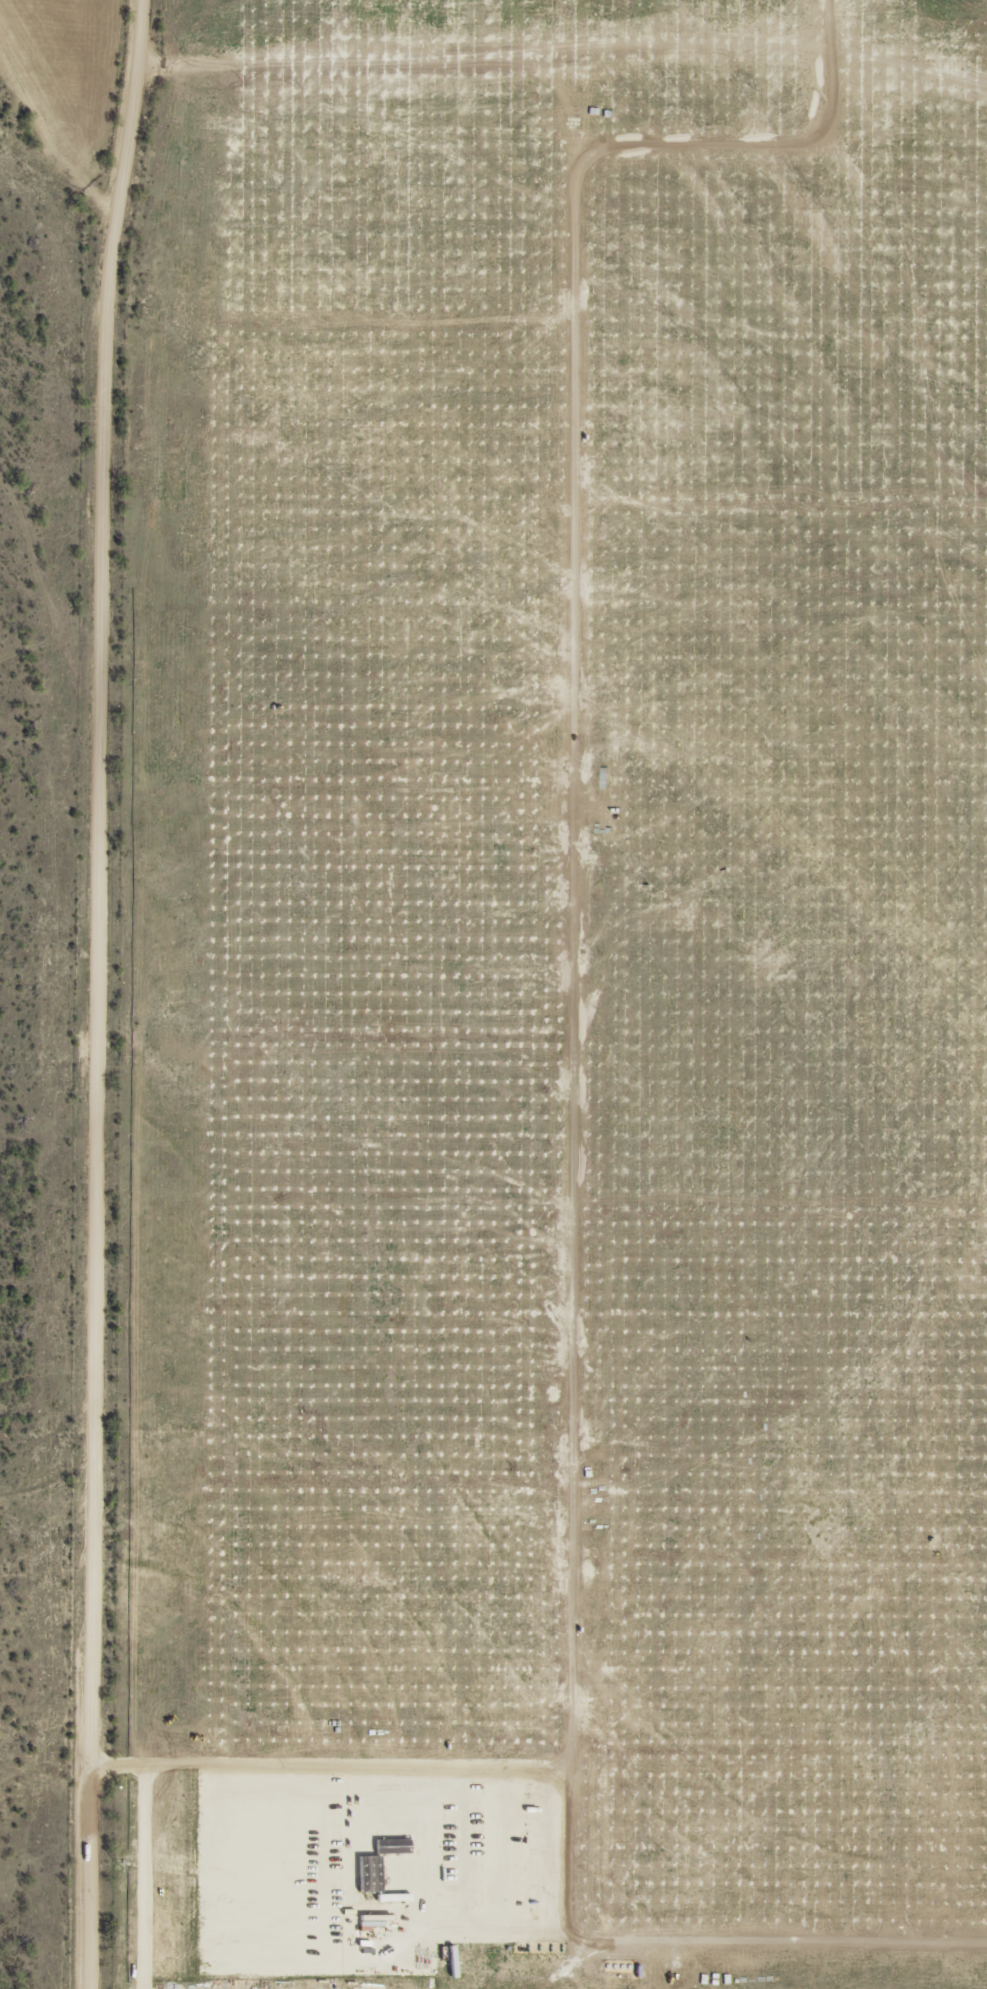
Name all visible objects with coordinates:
road: (567, 48)
road: (95, 992)

